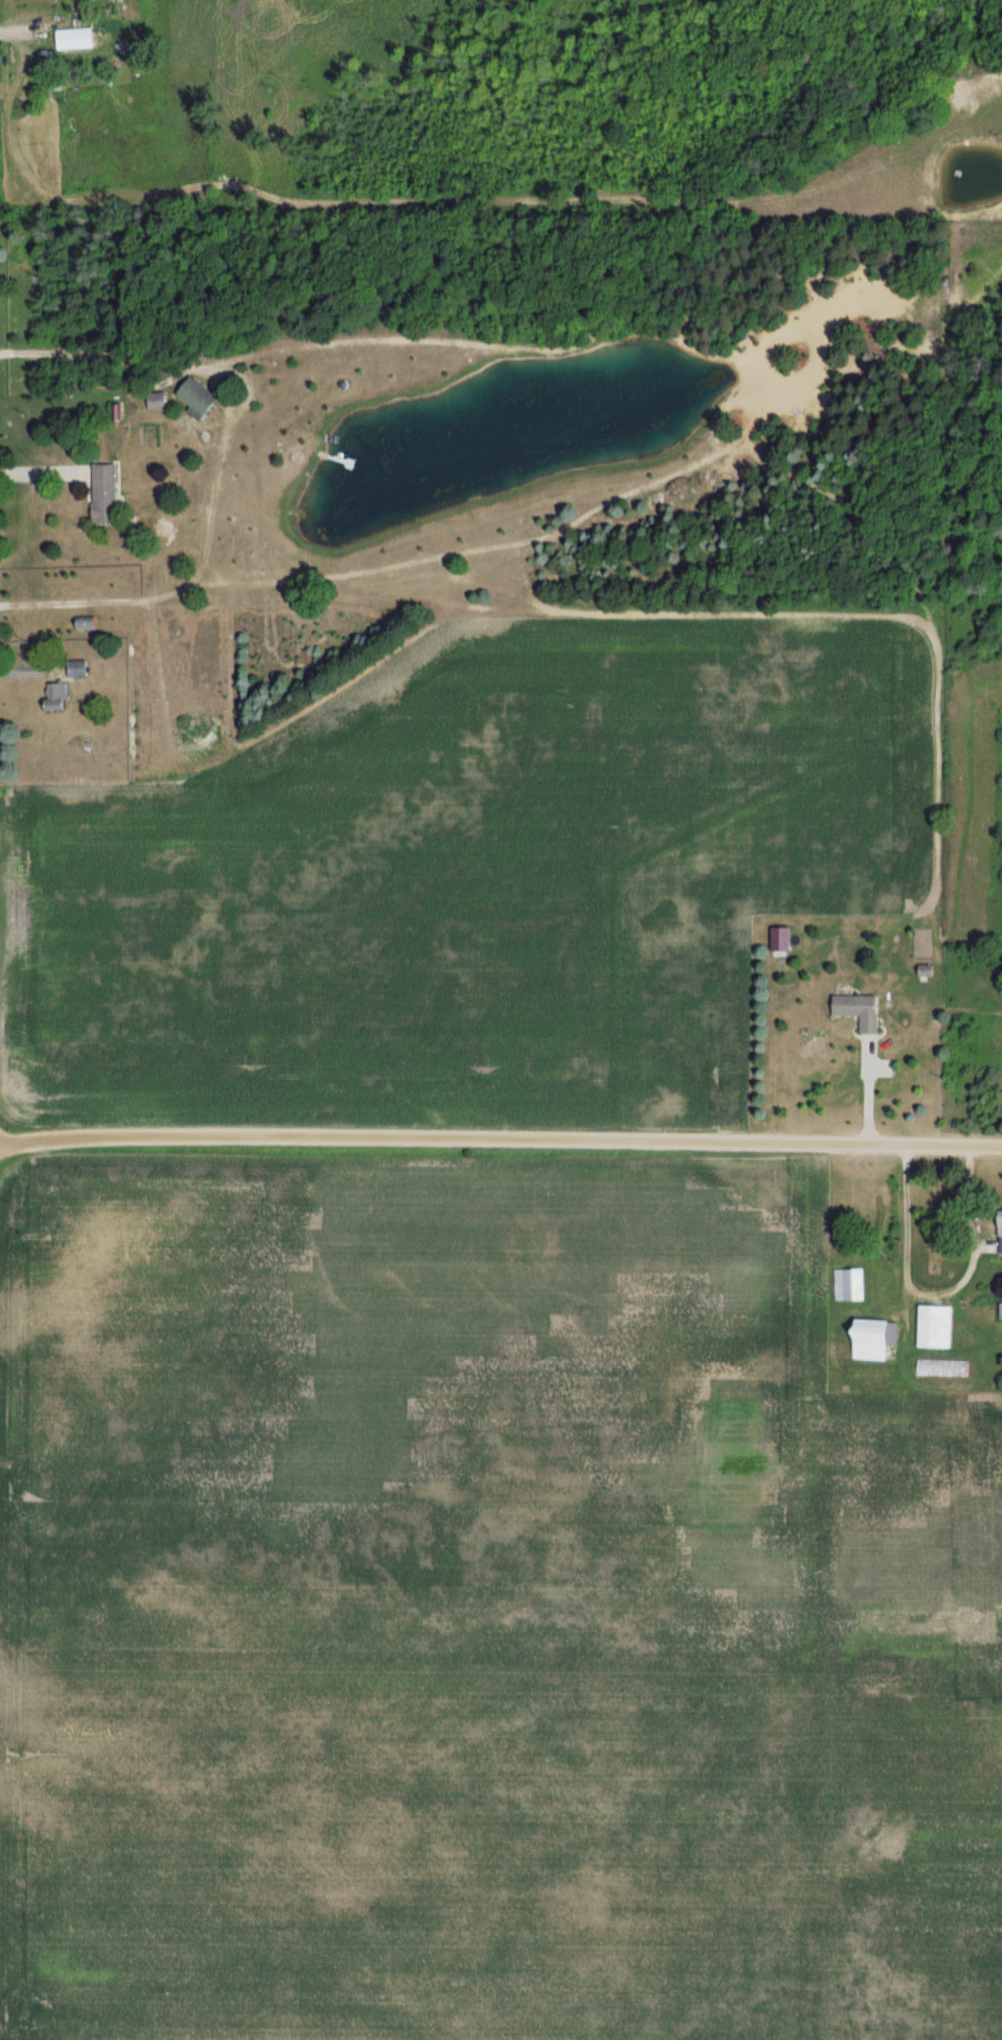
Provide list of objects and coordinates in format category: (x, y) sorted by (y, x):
building: (77, 38)
building: (199, 398)
building: (106, 492)
building: (89, 623)
building: (79, 668)
building: (58, 696)
building: (861, 1010)
road: (861, 1088)
road: (500, 1138)
building: (1001, 1234)
building: (850, 1284)
building: (937, 1326)
building: (874, 1340)
building: (944, 1367)

